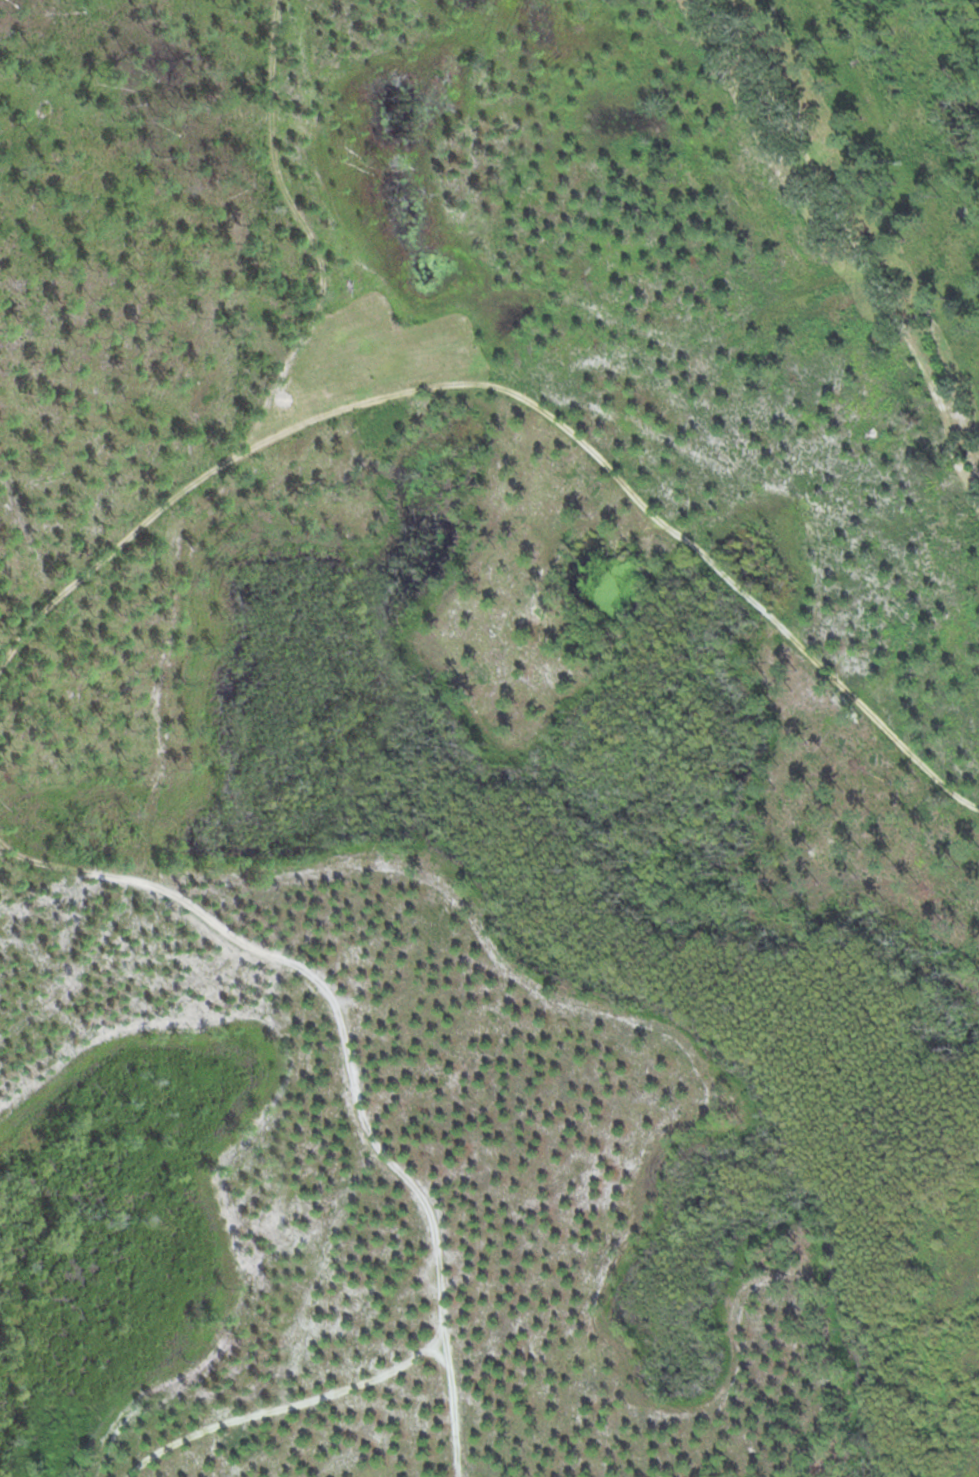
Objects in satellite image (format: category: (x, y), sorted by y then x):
road: (839, 275)

